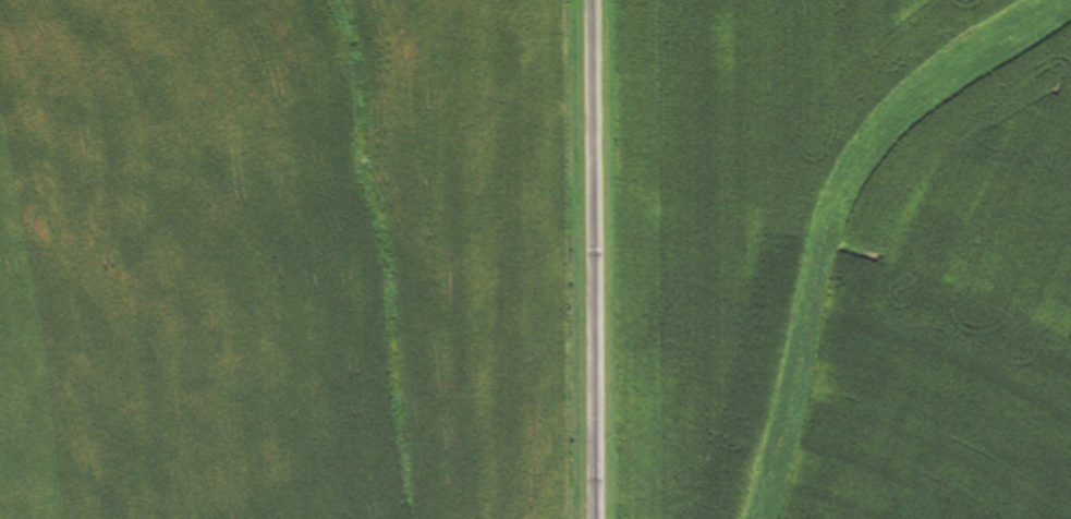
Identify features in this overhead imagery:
road: (599, 259)

